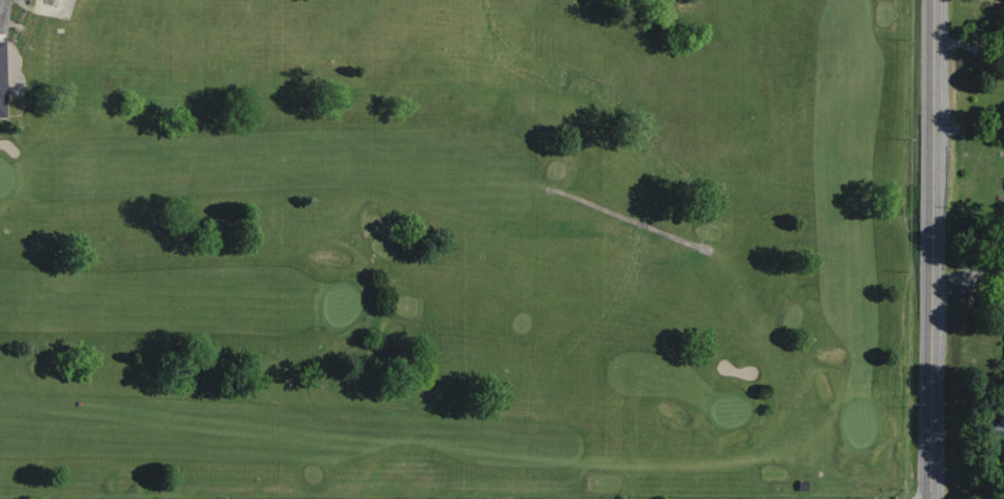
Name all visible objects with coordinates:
road: (951, 41)
road: (986, 41)
road: (17, 54)
road: (985, 55)
building: (4, 75)
road: (968, 128)
park: (8, 175)
road: (634, 215)
park: (459, 249)
road: (932, 249)
park: (345, 302)
park: (861, 421)
building: (806, 483)

